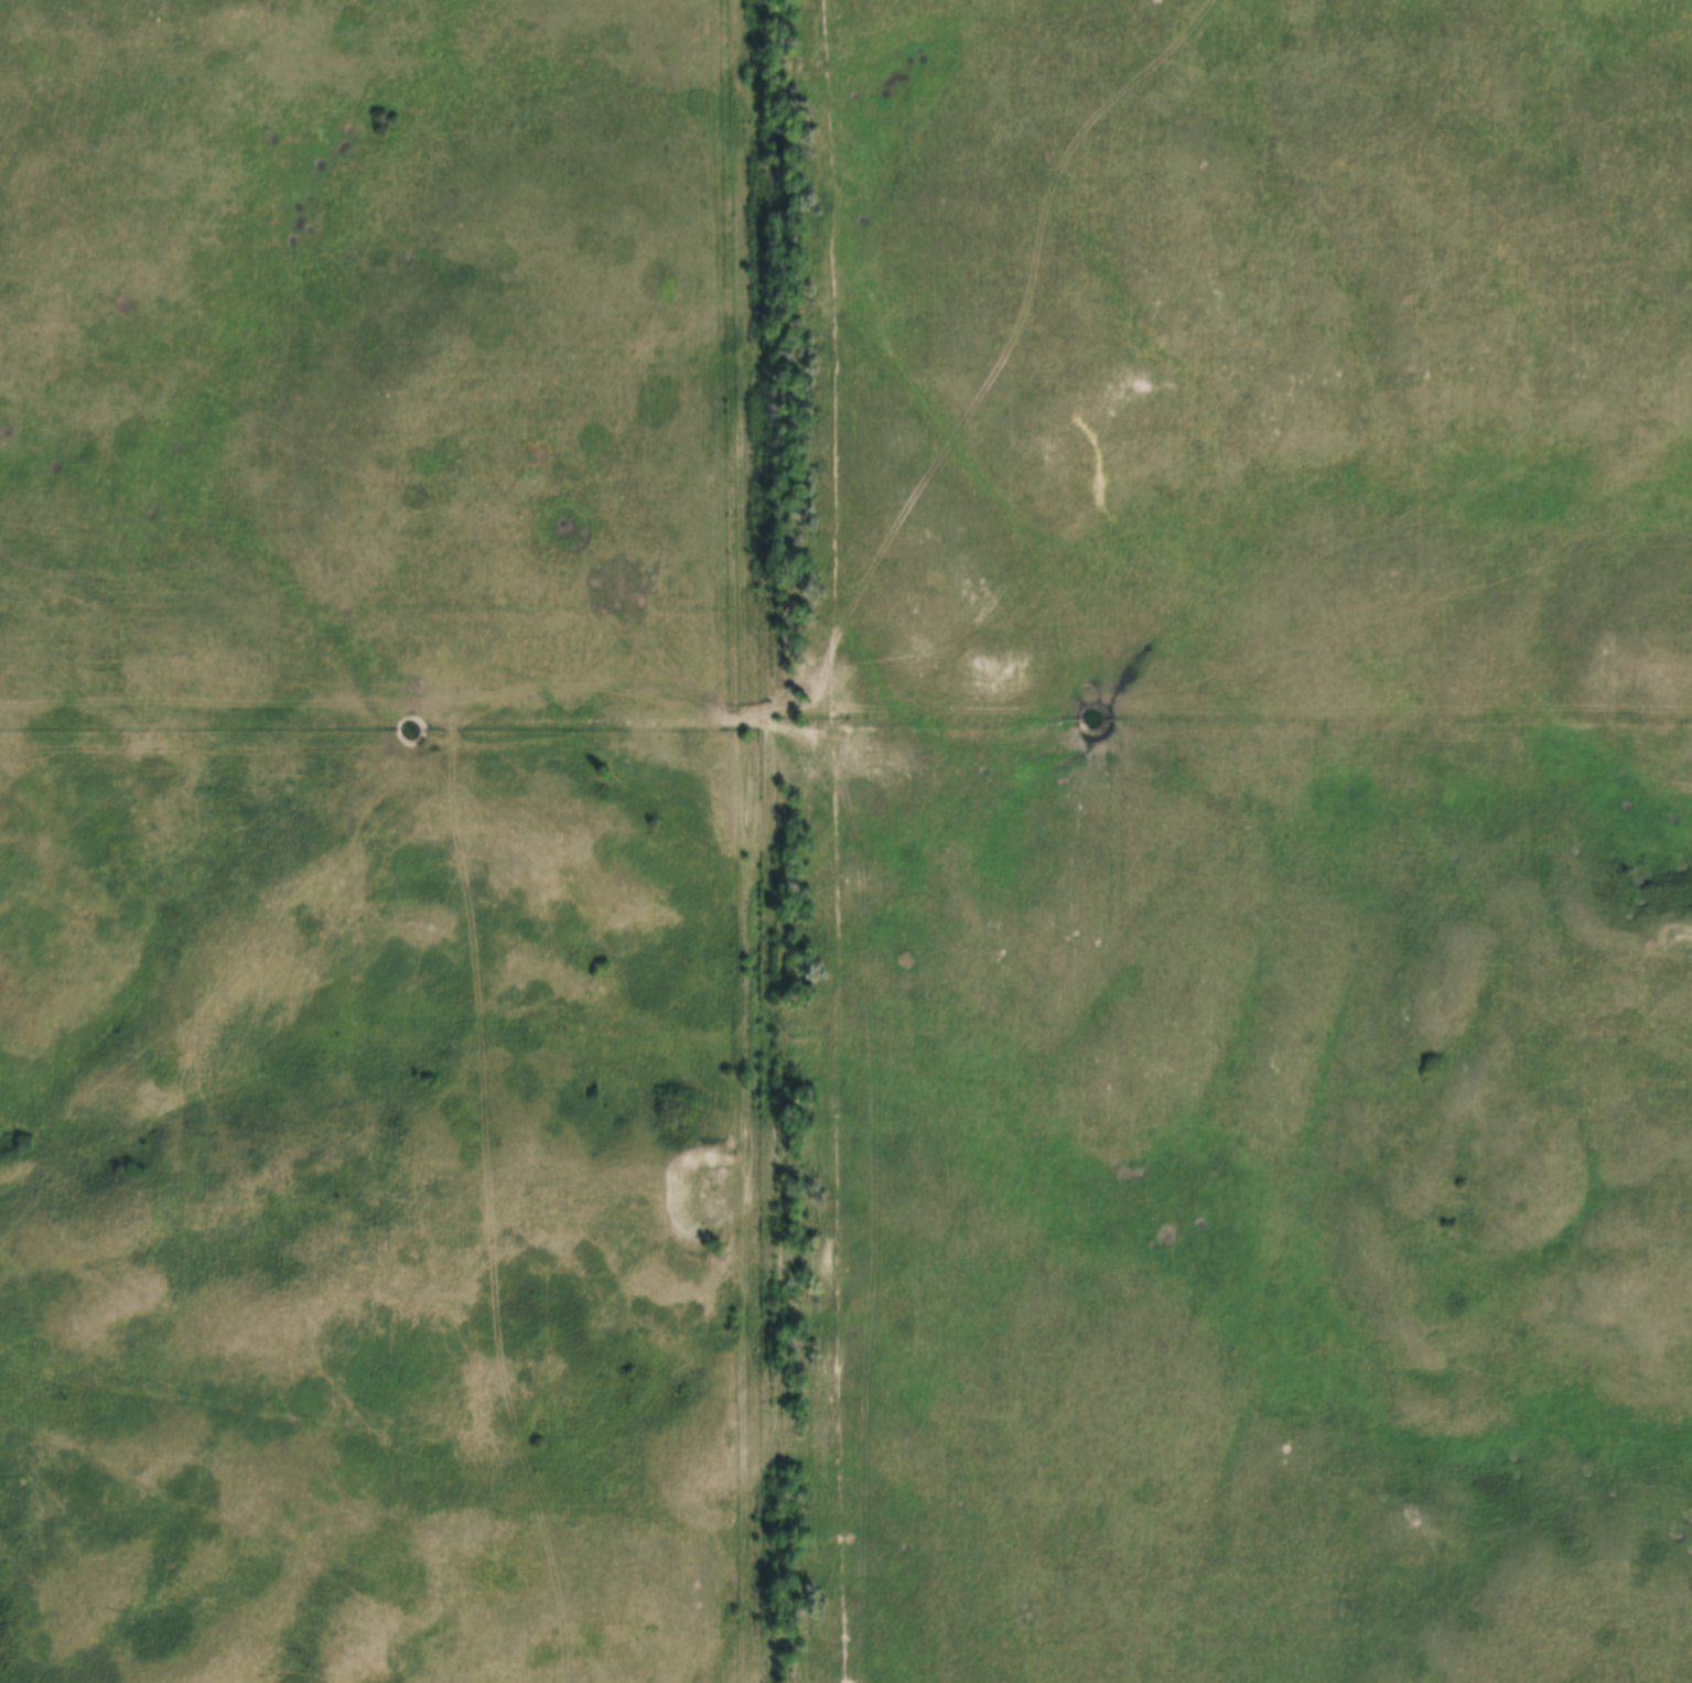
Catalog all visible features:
road: (753, 841)

